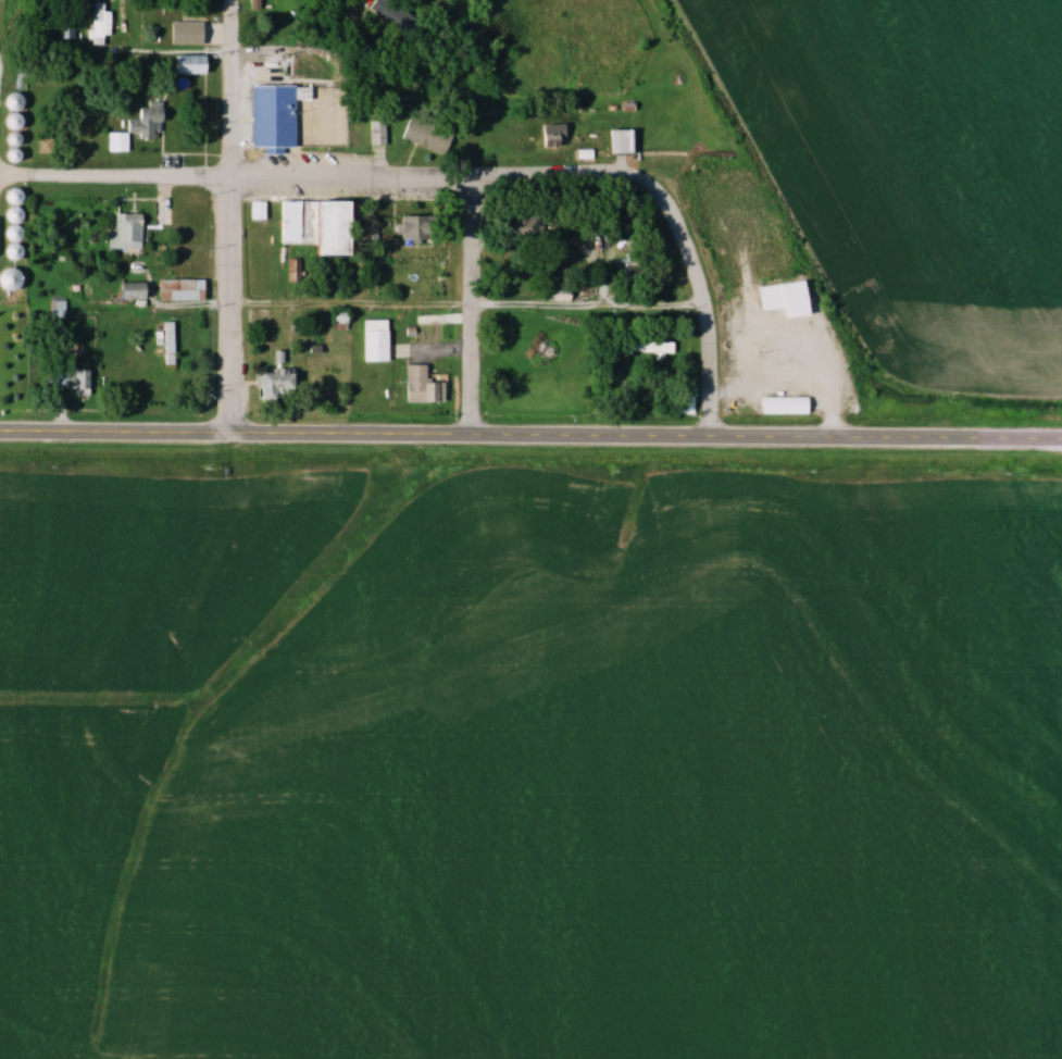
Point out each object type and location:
building: (391, 14)
building: (99, 22)
building: (65, 26)
building: (183, 33)
building: (187, 64)
road: (384, 91)
building: (89, 119)
building: (137, 126)
building: (424, 132)
building: (303, 135)
building: (552, 135)
building: (619, 141)
road: (21, 178)
road: (417, 183)
road: (235, 217)
building: (517, 225)
building: (310, 226)
building: (407, 228)
building: (125, 234)
building: (7, 279)
building: (178, 289)
building: (130, 290)
building: (782, 298)
road: (470, 309)
road: (473, 309)
building: (373, 341)
building: (650, 347)
road: (710, 375)
building: (70, 378)
building: (273, 382)
building: (417, 386)
building: (684, 396)
building: (782, 404)
road: (530, 438)

